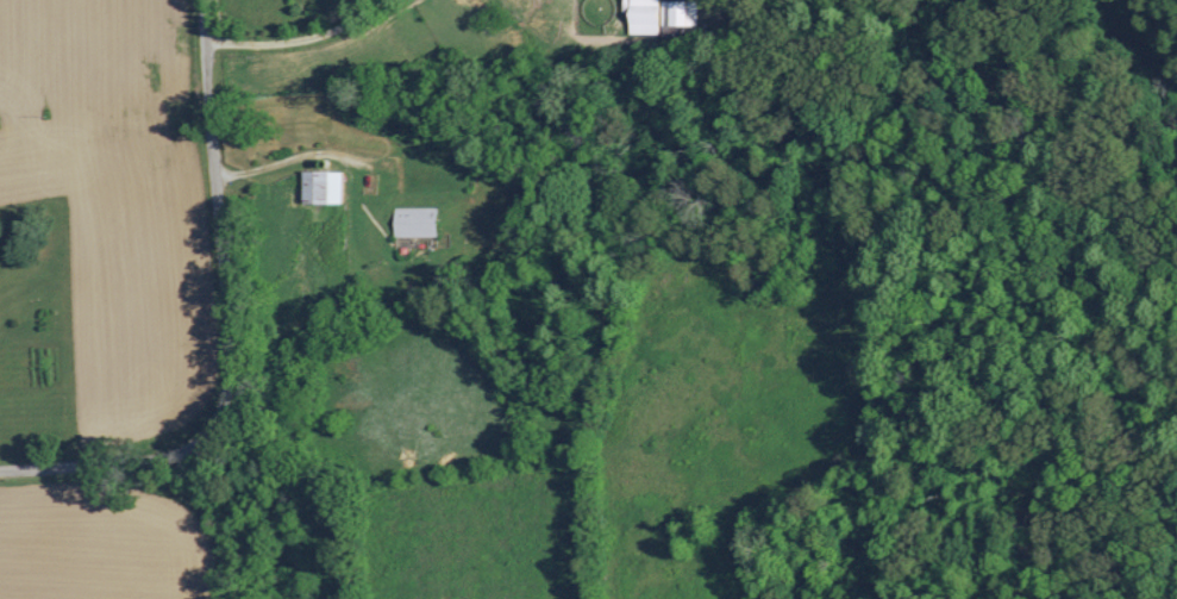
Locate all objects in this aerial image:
building: (678, 13)
building: (643, 17)
road: (299, 39)
road: (287, 160)
building: (321, 187)
road: (218, 220)
building: (414, 221)
road: (106, 464)

